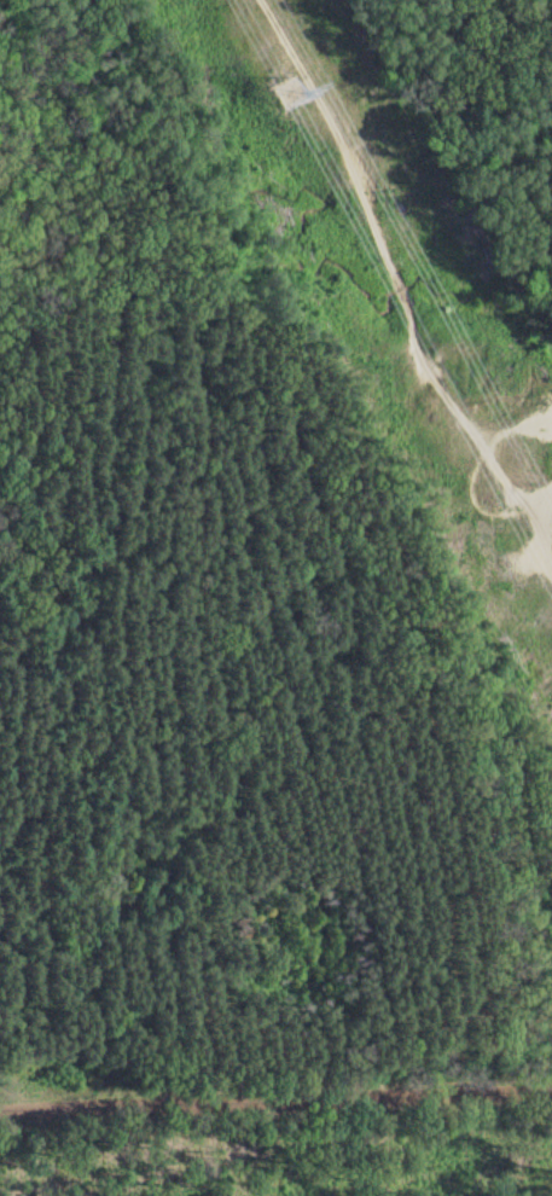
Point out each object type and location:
power tower: (280, 86)
road: (275, 1097)

